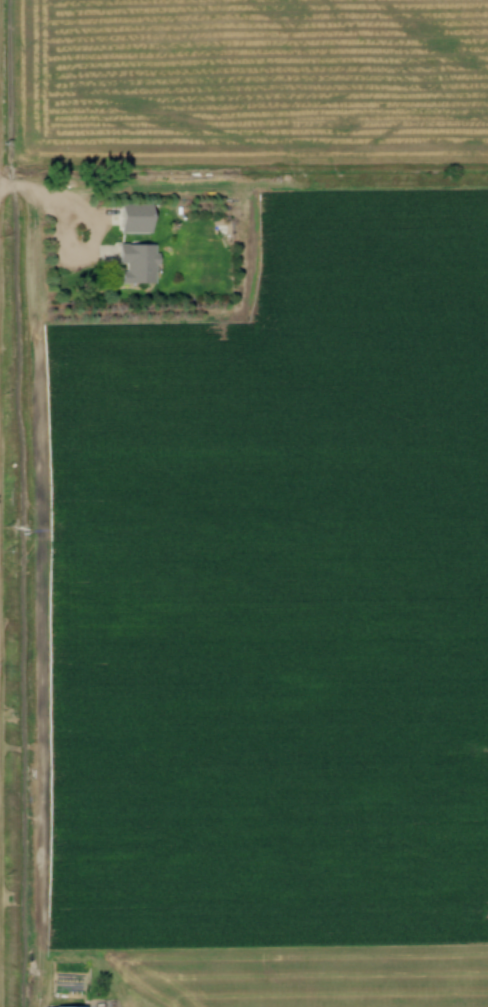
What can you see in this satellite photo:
road: (60, 197)
building: (134, 219)
building: (134, 264)

